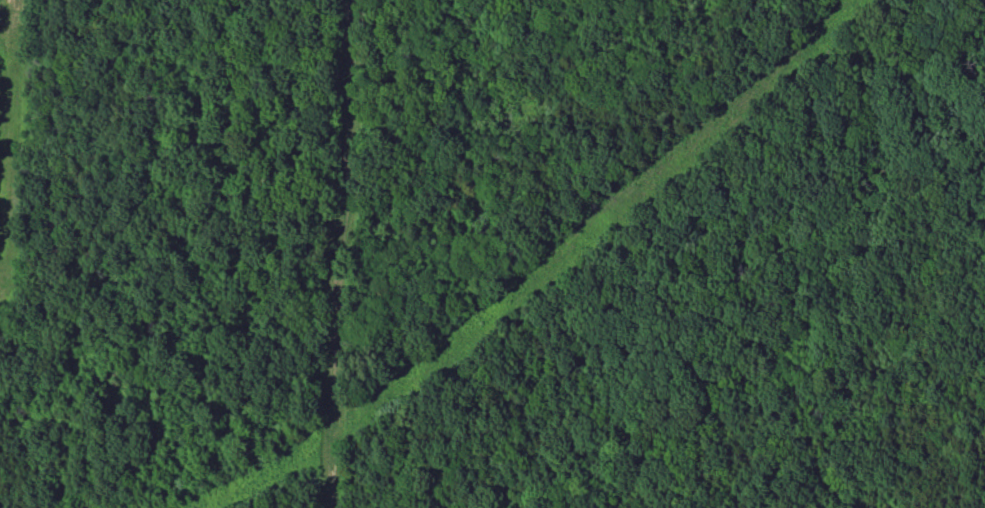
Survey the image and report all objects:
road: (333, 254)

